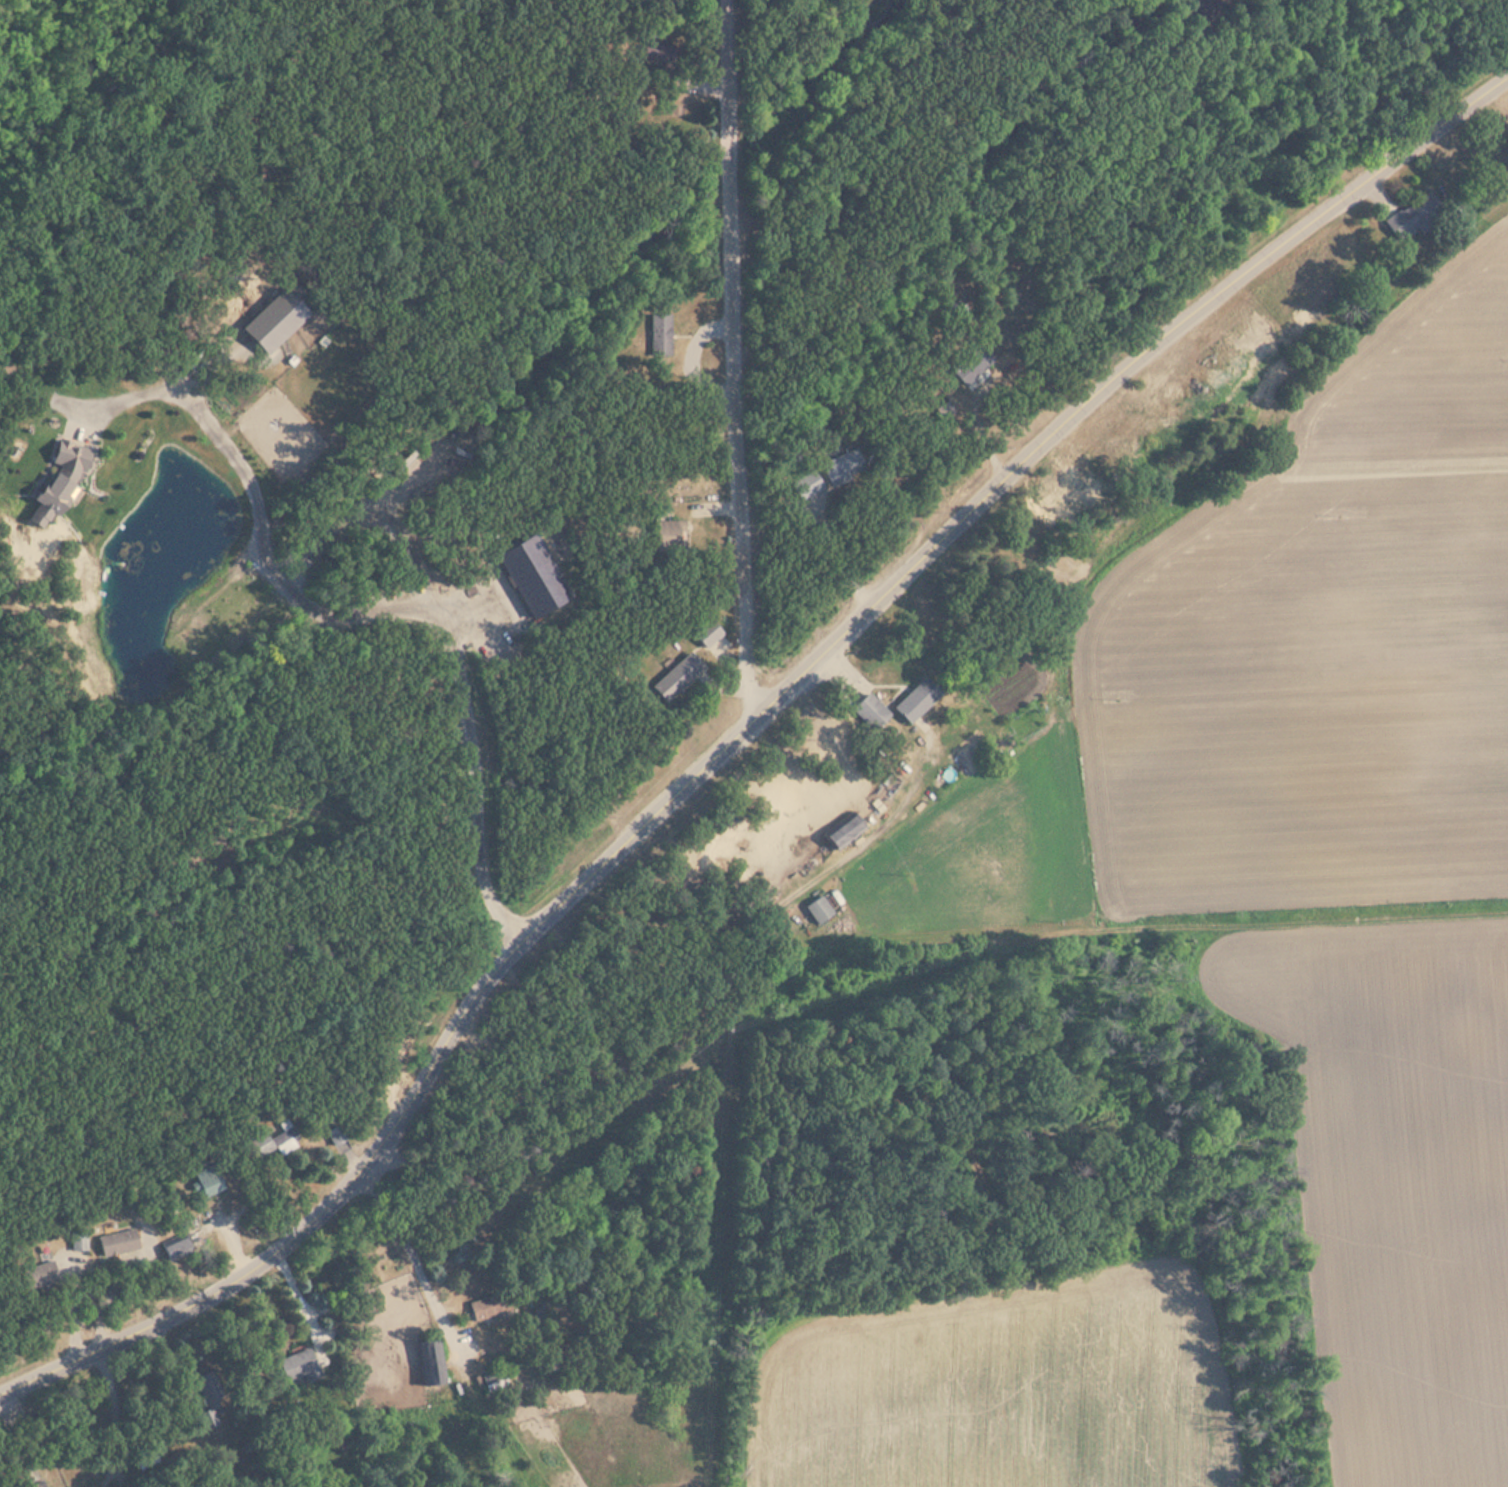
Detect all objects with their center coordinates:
building: (659, 54)
building: (1414, 216)
building: (660, 334)
road: (737, 359)
building: (970, 379)
building: (844, 466)
building: (807, 485)
building: (56, 490)
building: (672, 536)
building: (709, 635)
building: (679, 678)
building: (916, 701)
building: (871, 712)
road: (740, 731)
building: (845, 833)
building: (284, 1139)
building: (265, 1146)
building: (208, 1181)
building: (79, 1241)
building: (118, 1243)
building: (175, 1250)
road: (416, 1263)
building: (40, 1275)
building: (490, 1307)
building: (431, 1362)
building: (299, 1367)
building: (209, 1388)

